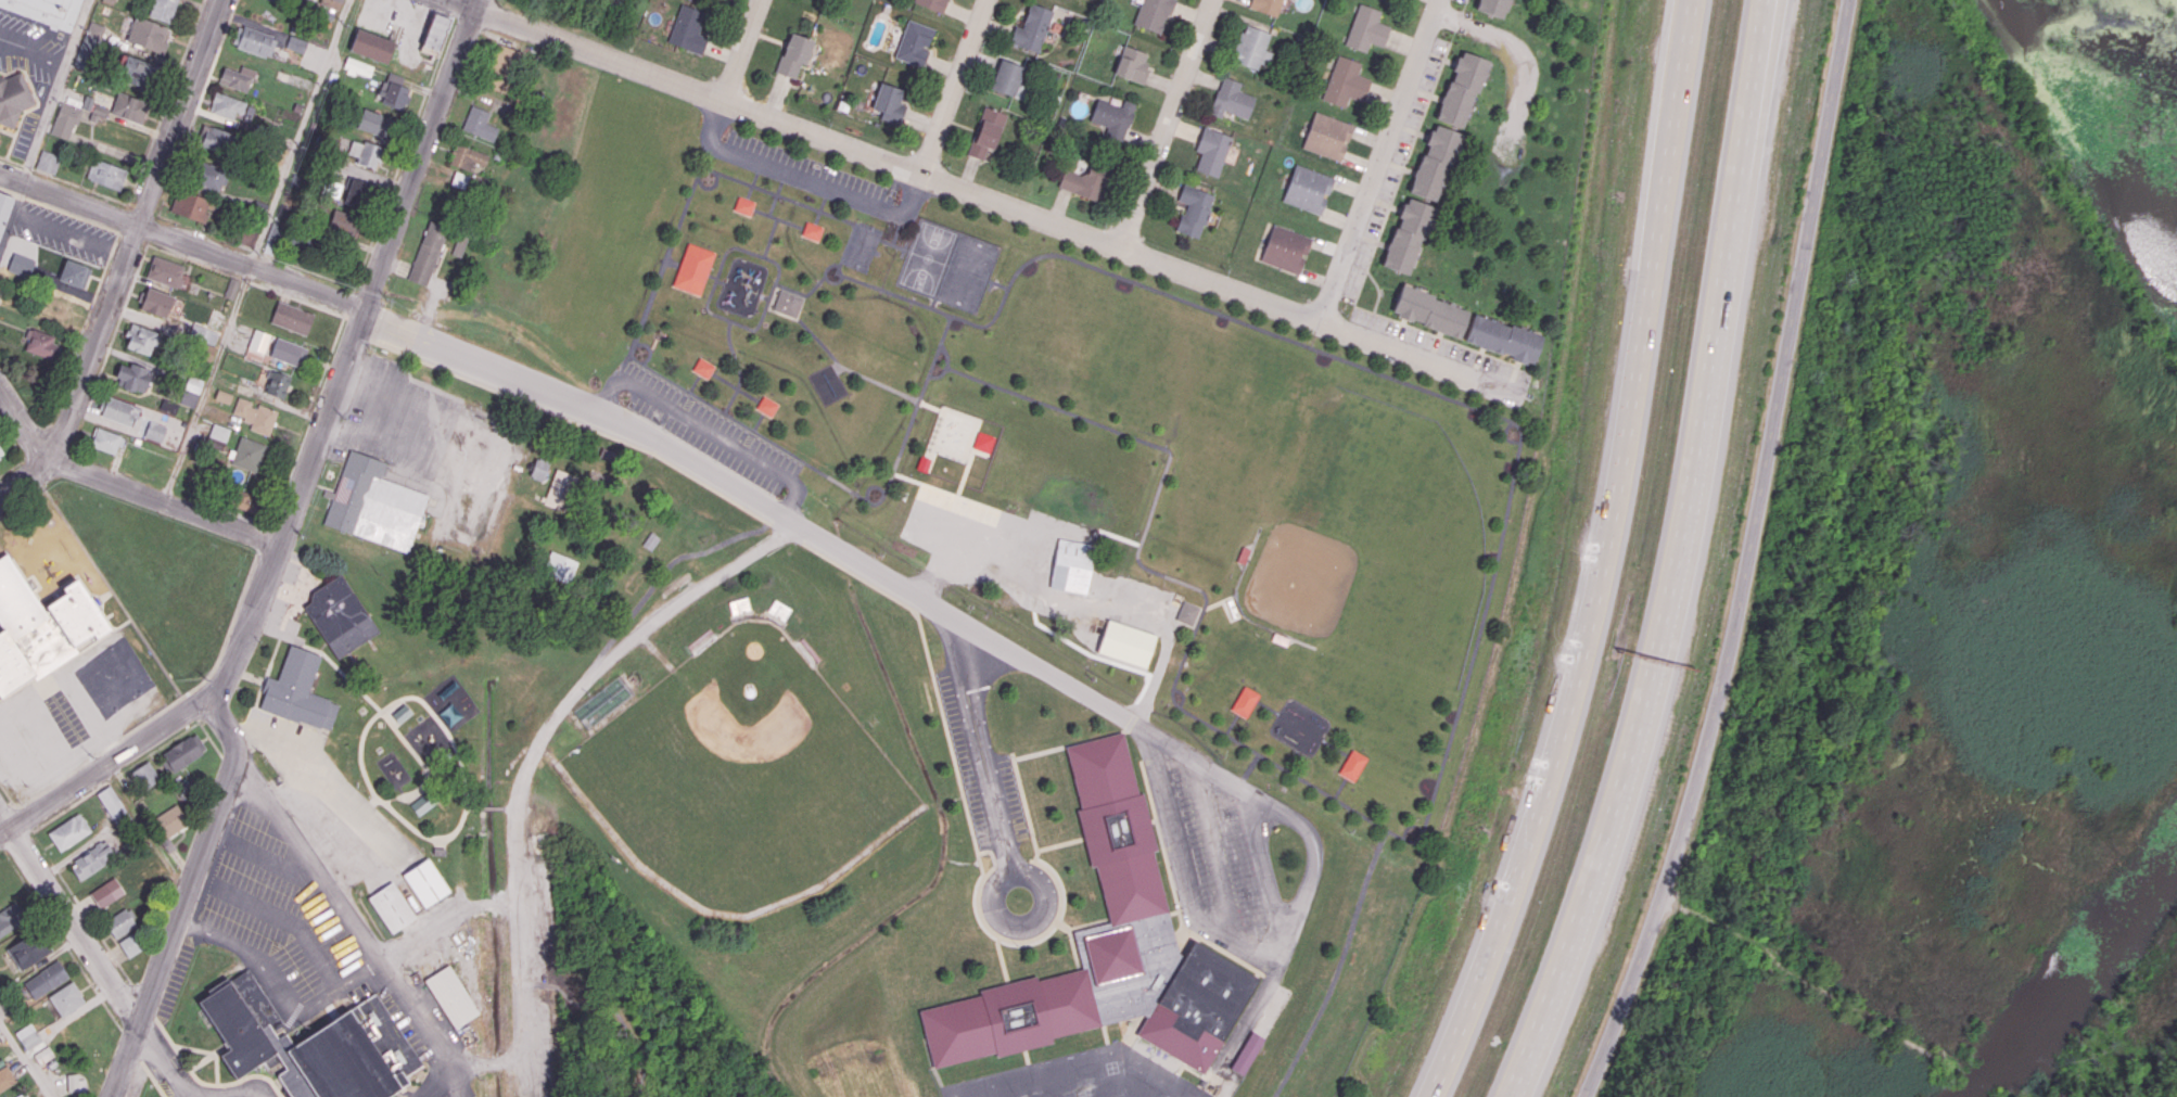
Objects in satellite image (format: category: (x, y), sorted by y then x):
building: (277, 0)
building: (311, 0)
parking lot: (1463, 0)
building: (331, 3)
road: (479, 3)
building: (935, 4)
building: (1266, 5)
building: (1490, 7)
building: (163, 9)
building: (46, 10)
building: (1154, 15)
building: (688, 28)
building: (1033, 28)
building: (1367, 28)
building: (435, 30)
building: (147, 34)
building: (253, 40)
building: (296, 43)
building: (915, 43)
building: (372, 44)
building: (88, 46)
building: (1253, 48)
road: (741, 49)
road: (33, 50)
building: (795, 53)
road: (1522, 53)
parking lot: (27, 63)
building: (1133, 64)
building: (358, 66)
building: (502, 67)
building: (136, 71)
building: (1009, 76)
building: (237, 78)
building: (1348, 81)
road: (954, 86)
building: (1465, 89)
road: (55, 90)
road: (35, 93)
building: (396, 95)
building: (13, 97)
building: (1233, 99)
road: (166, 102)
building: (890, 103)
building: (227, 105)
building: (128, 107)
road: (199, 107)
building: (1115, 116)
building: (65, 119)
building: (480, 124)
road: (1170, 124)
building: (379, 125)
road: (8, 131)
building: (988, 131)
road: (300, 133)
building: (1328, 137)
road: (11, 146)
building: (1213, 150)
road: (405, 151)
road: (1411, 152)
building: (366, 153)
building: (468, 156)
road: (11, 160)
road: (1382, 161)
building: (48, 162)
building: (1433, 163)
road: (28, 166)
parking lot: (811, 168)
parking lot: (1395, 169)
building: (105, 175)
building: (211, 176)
road: (935, 177)
building: (459, 179)
road: (807, 180)
building: (1088, 181)
road: (81, 186)
road: (752, 186)
road: (710, 187)
building: (331, 189)
building: (1307, 189)
road: (7, 190)
building: (357, 193)
road: (20, 195)
road: (775, 197)
building: (189, 205)
building: (4, 208)
road: (144, 209)
building: (1196, 209)
road: (820, 211)
road: (11, 213)
road: (764, 213)
road: (73, 214)
road: (124, 218)
road: (789, 221)
building: (346, 222)
road: (153, 228)
road: (897, 230)
road: (205, 231)
parking lot: (64, 232)
road: (69, 234)
road: (117, 235)
building: (247, 235)
building: (288, 237)
road: (769, 237)
road: (132, 238)
building: (1410, 238)
road: (181, 241)
building: (459, 244)
road: (892, 244)
road: (112, 247)
park: (864, 248)
building: (1286, 248)
road: (256, 250)
building: (428, 253)
park: (927, 257)
road: (127, 258)
road: (193, 260)
road: (672, 262)
road: (722, 264)
building: (21, 265)
road: (828, 266)
building: (692, 268)
road: (308, 270)
building: (165, 271)
building: (73, 272)
road: (712, 275)
road: (244, 279)
road: (720, 281)
road: (836, 281)
road: (998, 282)
building: (231, 288)
road: (1379, 290)
road: (764, 296)
road: (297, 298)
building: (155, 301)
road: (349, 302)
building: (786, 304)
building: (1433, 311)
road: (780, 314)
building: (290, 316)
road: (1436, 335)
building: (141, 339)
building: (256, 339)
building: (1504, 339)
road: (78, 341)
road: (820, 341)
building: (39, 343)
road: (111, 344)
road: (653, 344)
parking lot: (1439, 346)
road: (649, 348)
road: (939, 349)
building: (287, 350)
road: (738, 367)
road: (839, 369)
road: (1469, 374)
building: (131, 377)
road: (725, 380)
building: (275, 383)
road: (206, 384)
road: (693, 384)
building: (190, 391)
road: (749, 394)
road: (870, 401)
road: (930, 407)
building: (116, 409)
building: (260, 419)
road: (306, 419)
road: (574, 420)
road: (759, 421)
road: (705, 430)
building: (155, 431)
building: (217, 431)
parking lot: (712, 432)
road: (1505, 435)
parking lot: (432, 436)
road: (12, 438)
building: (105, 441)
water park: (965, 448)
building: (246, 452)
building: (0, 457)
road: (13, 467)
building: (539, 468)
park: (1065, 470)
road: (304, 473)
road: (890, 477)
road: (909, 481)
road: (871, 485)
road: (123, 486)
building: (561, 489)
building: (241, 499)
road: (960, 499)
road: (22, 500)
road: (760, 501)
building: (373, 506)
parking lot: (965, 508)
road: (774, 511)
park: (486, 518)
road: (786, 533)
road: (262, 537)
building: (651, 540)
park: (1365, 549)
road: (1742, 556)
road: (1676, 558)
road: (1603, 559)
building: (1073, 565)
building: (560, 566)
road: (860, 576)
road: (658, 579)
road: (264, 583)
building: (677, 584)
road: (113, 590)
road: (287, 590)
road: (915, 591)
building: (1187, 612)
building: (336, 614)
building: (40, 626)
road: (278, 633)
building: (1128, 641)
road: (298, 642)
road: (215, 662)
road: (253, 676)
road: (353, 677)
building: (296, 691)
road: (1184, 694)
road: (1268, 706)
fountain: (362, 709)
parking lot: (72, 711)
road: (1232, 724)
road: (364, 730)
road: (1450, 734)
road: (211, 738)
road: (950, 742)
road: (980, 744)
road: (110, 745)
road: (1335, 747)
road: (534, 748)
building: (182, 752)
road: (1291, 760)
park: (415, 766)
road: (1248, 770)
building: (145, 774)
road: (116, 776)
park: (742, 778)
parking lot: (982, 778)
parking lot: (324, 780)
road: (55, 781)
road: (1338, 787)
road: (9, 794)
road: (372, 798)
road: (1024, 802)
building: (422, 803)
building: (112, 804)
road: (491, 808)
road: (508, 808)
road: (8, 812)
road: (25, 819)
building: (169, 821)
road: (1410, 826)
road: (1306, 827)
building: (68, 831)
road: (427, 835)
road: (18, 841)
road: (1059, 844)
road: (1211, 844)
road: (2, 846)
building: (440, 851)
parking lot: (1222, 851)
road: (2, 852)
road: (1035, 855)
building: (92, 859)
road: (994, 859)
road: (264, 860)
road: (1264, 866)
road: (1185, 868)
building: (425, 882)
building: (106, 892)
road: (186, 895)
road: (509, 898)
flagpole: (1019, 900)
road: (494, 902)
road: (81, 906)
building: (392, 907)
road: (993, 908)
building: (11, 918)
road: (68, 918)
road: (284, 918)
building: (119, 922)
road: (1062, 922)
road: (445, 923)
road: (1031, 939)
road: (63, 940)
road: (371, 943)
building: (131, 944)
road: (1075, 947)
building: (1103, 948)
building: (28, 949)
road: (395, 957)
road: (1002, 957)
road: (1338, 966)
building: (46, 979)
road: (283, 993)
building: (450, 996)
building: (66, 998)
road: (143, 998)
road: (619, 1018)
building: (27, 1035)
building: (310, 1044)
road: (131, 1045)
road: (193, 1048)
building: (1247, 1053)
road: (154, 1054)
building: (43, 1055)
road: (206, 1056)
road: (26, 1057)
road: (217, 1068)
building: (5, 1079)
road: (153, 1080)
road: (457, 1082)
building: (76, 1083)
road: (208, 1083)

